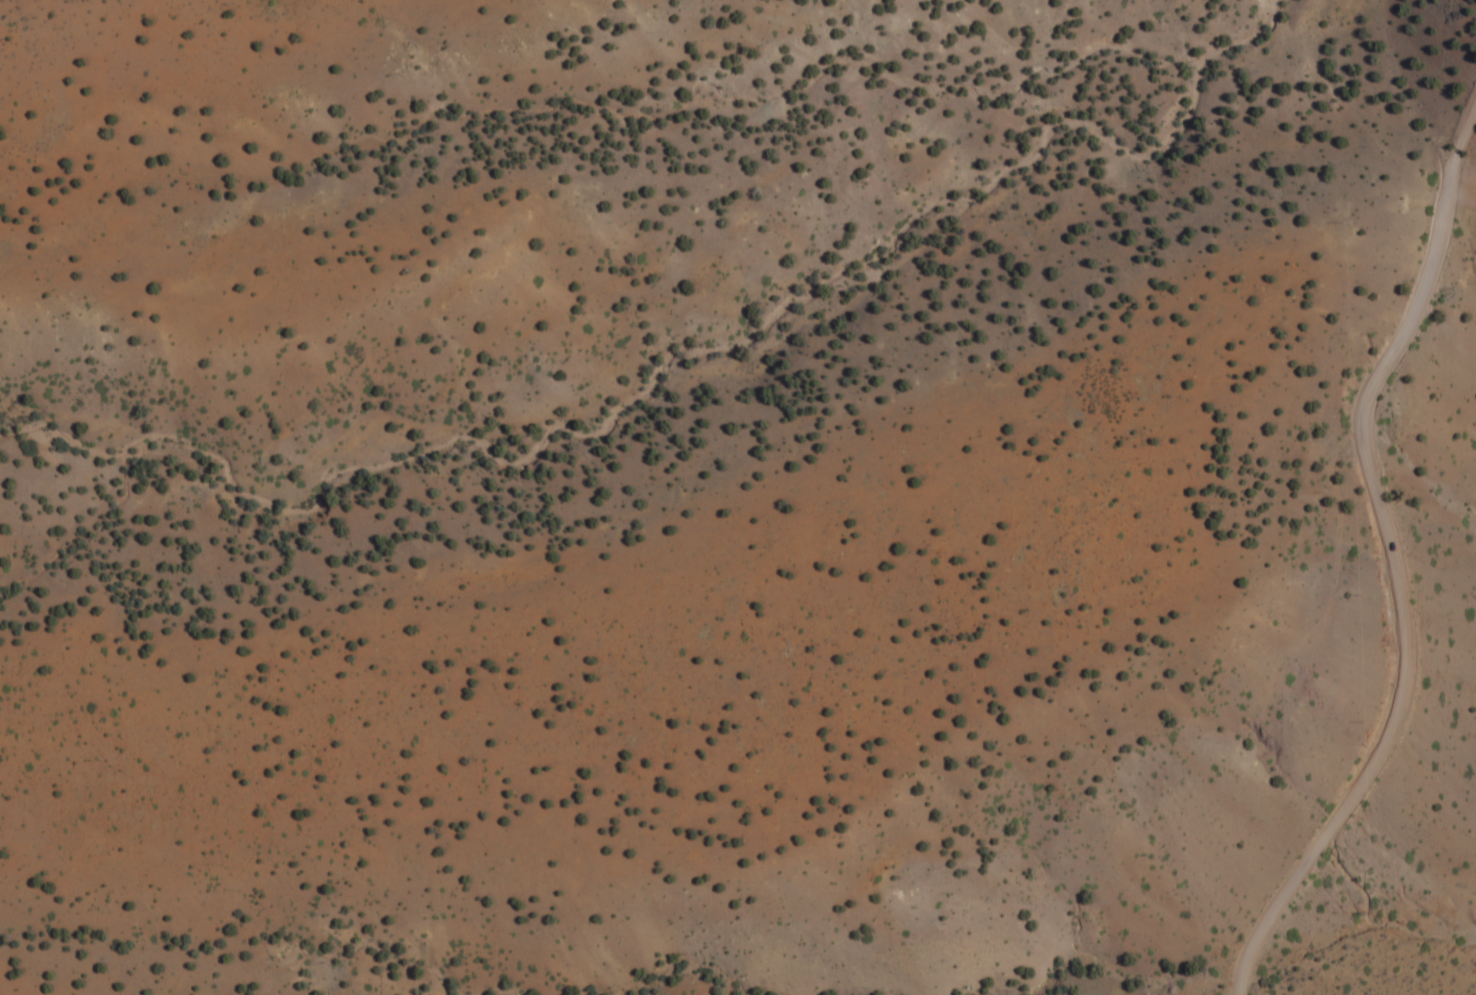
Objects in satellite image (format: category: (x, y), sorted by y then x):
road: (1366, 114)
road: (1400, 571)

